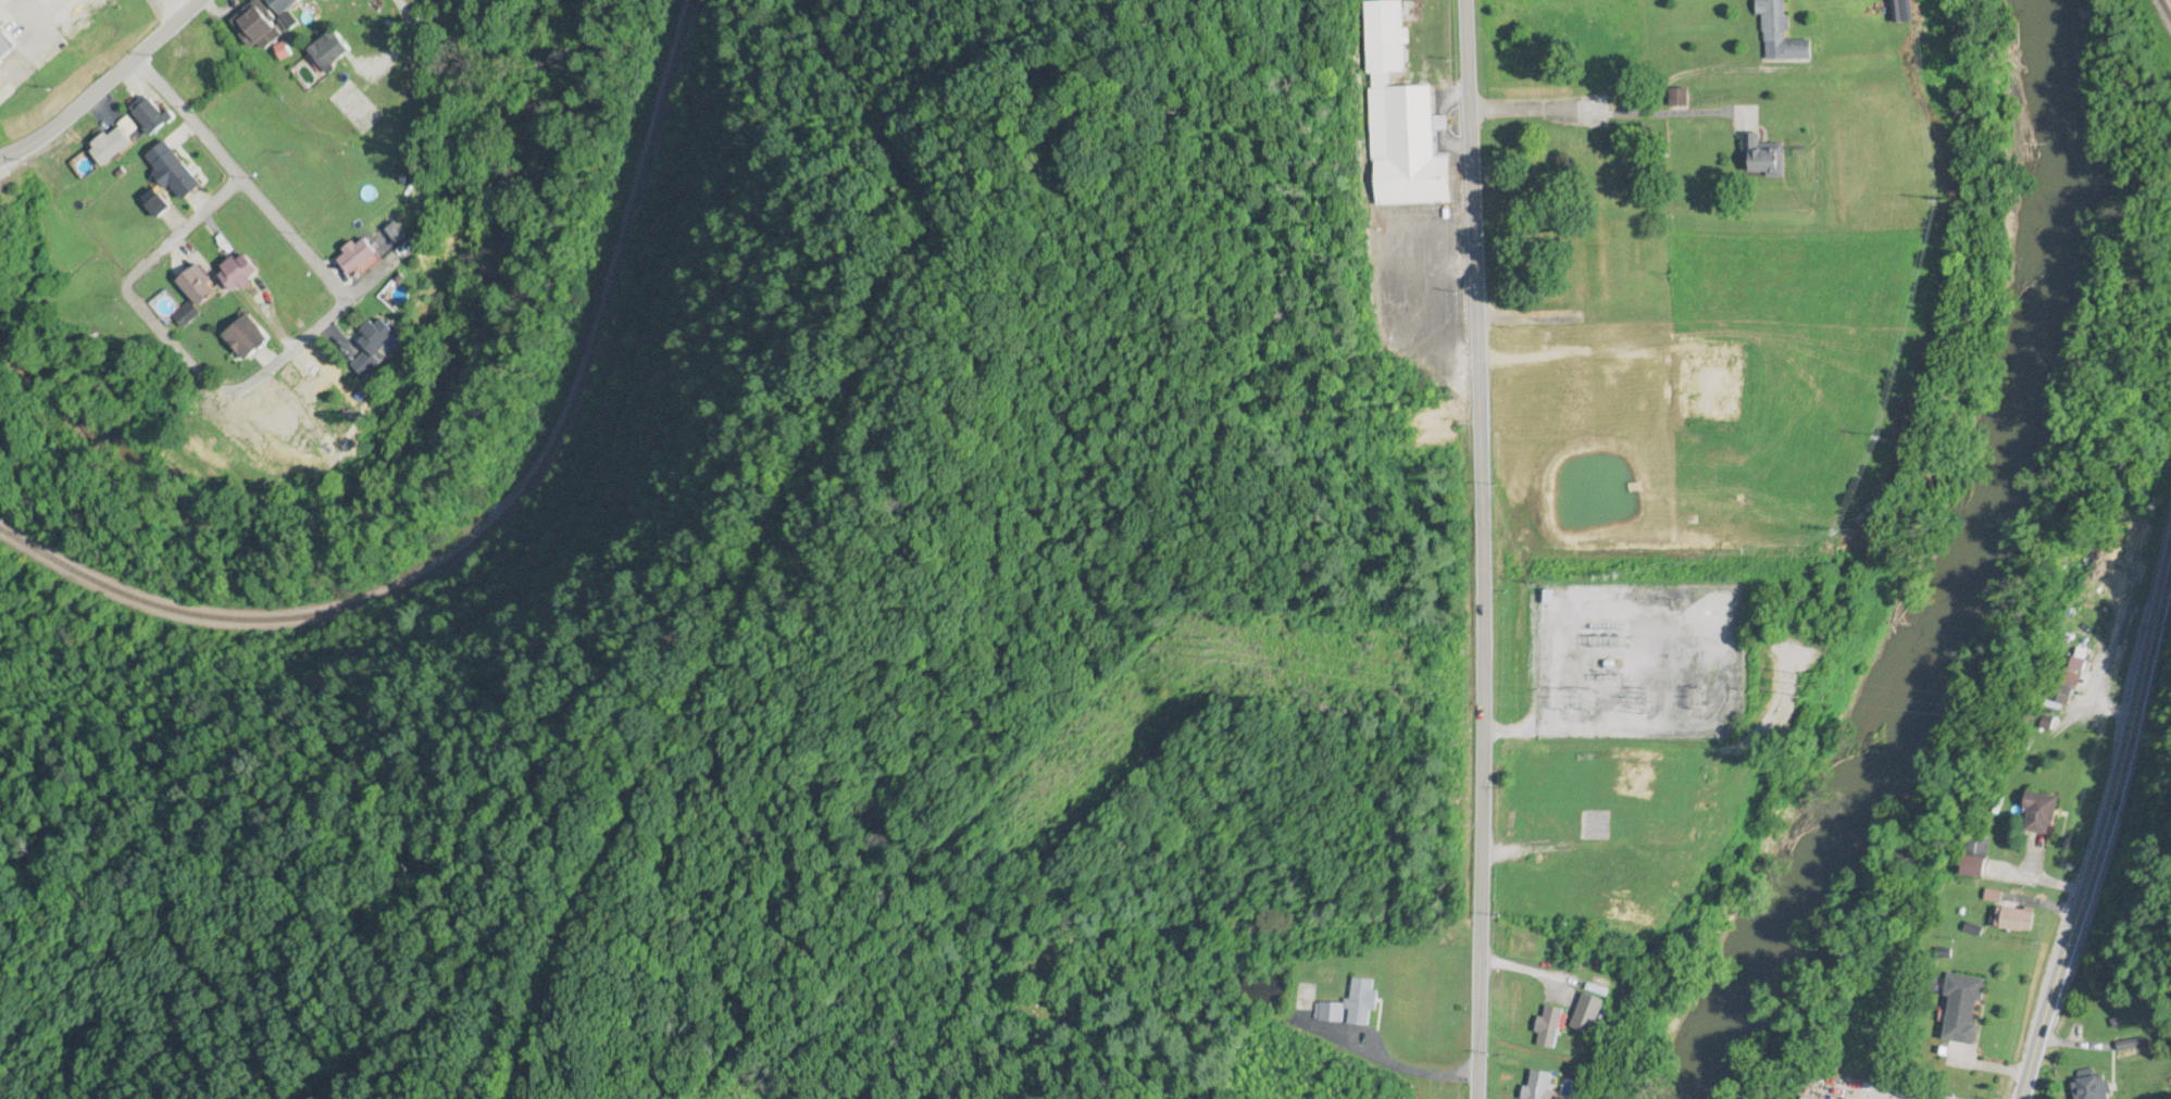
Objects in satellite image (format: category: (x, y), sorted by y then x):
railway: (2168, 4)
building: (284, 5)
road: (398, 8)
building: (1901, 12)
building: (260, 27)
building: (1781, 34)
building: (5, 46)
building: (333, 51)
road: (104, 85)
building: (357, 109)
building: (152, 117)
road: (187, 120)
building: (1401, 123)
building: (113, 147)
building: (1764, 159)
building: (175, 172)
building: (161, 205)
building: (398, 234)
building: (359, 258)
building: (240, 274)
building: (200, 285)
building: (187, 315)
building: (249, 338)
building: (377, 338)
road: (267, 370)
building: (285, 432)
railway: (504, 515)
road: (1475, 549)
river: (1964, 571)
building: (2117, 586)
power tower: (1231, 641)
power substation: (1638, 663)
building: (2080, 666)
power tower: (1808, 692)
building: (2043, 815)
road: (2105, 827)
road: (1542, 850)
building: (1976, 867)
building: (2018, 920)
road: (1530, 971)
building: (1351, 1007)
building: (1964, 1010)
building: (1550, 1028)
building: (2139, 1081)
building: (1540, 1086)
building: (2093, 1088)

